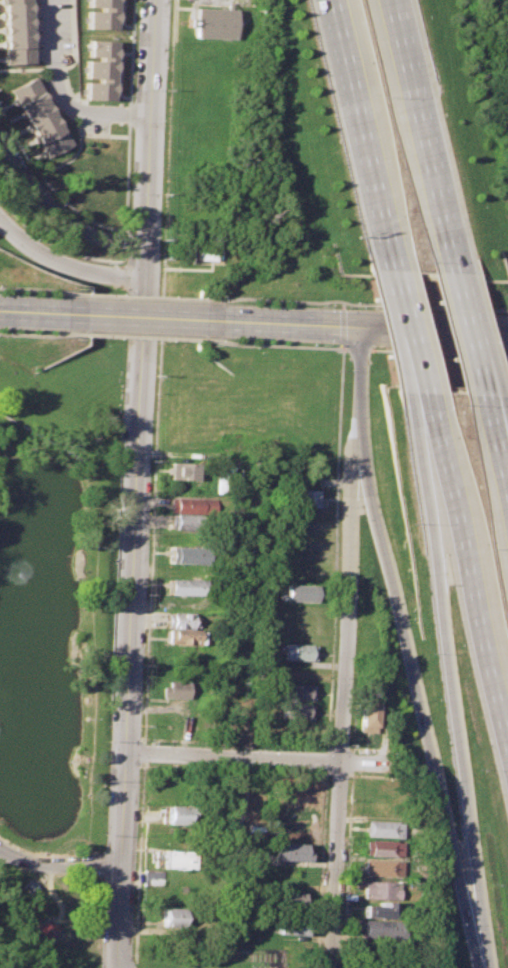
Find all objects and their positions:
building: (104, 13)
building: (212, 23)
building: (18, 32)
building: (100, 71)
road: (61, 96)
building: (41, 116)
road: (416, 135)
road: (353, 136)
road: (58, 212)
street lamp: (35, 234)
street lamp: (108, 263)
road: (64, 267)
road: (196, 268)
road: (33, 288)
street lamp: (85, 292)
street lamp: (116, 294)
road: (143, 296)
street lamp: (169, 296)
street lamp: (256, 296)
street lamp: (200, 297)
road: (284, 300)
street lamp: (321, 306)
road: (424, 306)
road: (32, 311)
road: (141, 316)
road: (363, 327)
road: (342, 329)
road: (405, 332)
road: (464, 332)
road: (32, 334)
road: (140, 336)
street lamp: (83, 337)
street lamp: (71, 338)
street lamp: (114, 338)
street lamp: (166, 341)
street lamp: (198, 342)
street lamp: (320, 345)
street lamp: (254, 347)
road: (424, 351)
street lamp: (337, 372)
road: (358, 389)
street lamp: (155, 394)
road: (426, 410)
road: (487, 425)
street lamp: (152, 462)
road: (502, 468)
building: (184, 471)
street lamp: (333, 472)
building: (225, 477)
road: (502, 480)
road: (137, 482)
road: (154, 488)
building: (304, 498)
building: (186, 504)
building: (185, 521)
street lamp: (148, 530)
street lamp: (87, 546)
building: (187, 555)
road: (469, 579)
park: (113, 582)
building: (184, 586)
building: (300, 593)
road: (331, 594)
street lamp: (146, 596)
street lamp: (376, 596)
road: (347, 607)
building: (182, 619)
fountain: (15, 627)
building: (184, 637)
street lamp: (87, 648)
building: (296, 651)
street lamp: (144, 664)
street lamp: (332, 677)
building: (174, 690)
building: (297, 691)
road: (455, 698)
road: (422, 709)
building: (293, 711)
building: (367, 715)
street lamp: (85, 718)
fountain: (8, 719)
street lamp: (141, 723)
street lamp: (237, 745)
street lamp: (89, 758)
road: (259, 758)
street lamp: (328, 778)
building: (386, 809)
street lamp: (87, 811)
building: (181, 815)
building: (384, 829)
street lamp: (9, 842)
building: (385, 848)
building: (288, 852)
building: (172, 859)
road: (60, 865)
road: (334, 865)
building: (384, 868)
building: (152, 878)
building: (382, 889)
building: (288, 900)
building: (383, 910)
building: (173, 917)
building: (289, 925)
building: (384, 930)
street lamp: (132, 954)
road: (118, 966)
road: (120, 966)

